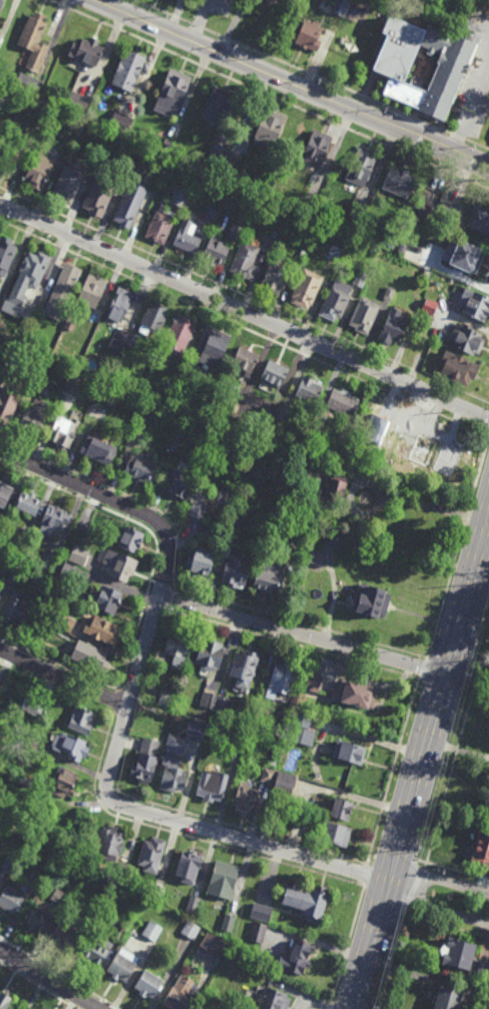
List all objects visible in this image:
building: (1, 4)
parking lot: (234, 6)
building: (340, 7)
road: (203, 21)
road: (236, 27)
building: (309, 36)
building: (33, 41)
building: (85, 51)
building: (392, 64)
road: (293, 66)
building: (128, 70)
building: (28, 83)
road: (290, 84)
building: (174, 87)
road: (268, 94)
building: (77, 102)
building: (217, 106)
road: (470, 110)
building: (120, 122)
building: (269, 128)
road: (460, 137)
building: (167, 142)
road: (479, 146)
building: (316, 147)
building: (217, 152)
building: (12, 154)
building: (232, 158)
building: (361, 166)
building: (128, 167)
building: (40, 170)
building: (69, 181)
building: (399, 181)
building: (313, 194)
building: (98, 196)
building: (180, 196)
building: (129, 204)
building: (425, 207)
building: (358, 210)
building: (448, 211)
building: (210, 215)
building: (480, 218)
building: (160, 224)
building: (273, 230)
building: (235, 231)
building: (186, 238)
building: (215, 251)
building: (6, 254)
building: (464, 255)
building: (245, 261)
building: (331, 265)
building: (413, 272)
building: (275, 276)
building: (360, 277)
building: (26, 280)
building: (63, 287)
building: (306, 288)
building: (91, 293)
building: (389, 293)
building: (336, 299)
building: (43, 300)
building: (475, 304)
building: (120, 305)
building: (430, 306)
building: (40, 308)
road: (244, 313)
building: (365, 315)
building: (426, 319)
building: (153, 320)
building: (70, 326)
building: (393, 326)
building: (179, 334)
building: (467, 338)
building: (119, 339)
building: (132, 341)
building: (214, 348)
building: (16, 357)
building: (44, 358)
building: (245, 360)
building: (458, 368)
building: (274, 373)
building: (183, 375)
building: (75, 383)
building: (309, 391)
building: (244, 395)
building: (343, 401)
building: (8, 404)
building: (97, 411)
building: (272, 411)
building: (283, 412)
building: (35, 416)
building: (141, 427)
building: (64, 432)
building: (315, 433)
building: (99, 449)
building: (416, 451)
building: (355, 460)
building: (306, 463)
building: (140, 470)
building: (180, 486)
building: (333, 492)
building: (5, 494)
building: (29, 503)
building: (199, 504)
road: (426, 505)
building: (54, 521)
building: (84, 524)
building: (230, 531)
road: (486, 534)
building: (333, 538)
building: (130, 540)
building: (20, 551)
building: (79, 555)
building: (48, 560)
building: (200, 562)
building: (118, 565)
building: (15, 567)
building: (71, 573)
building: (235, 573)
building: (268, 576)
building: (41, 577)
building: (1, 593)
building: (370, 599)
building: (108, 600)
road: (185, 602)
building: (16, 609)
building: (67, 621)
building: (102, 629)
building: (177, 647)
road: (144, 648)
building: (209, 653)
building: (92, 656)
building: (244, 667)
building: (281, 678)
power tower: (469, 678)
building: (311, 682)
building: (356, 691)
building: (169, 700)
building: (213, 701)
building: (36, 704)
building: (257, 716)
building: (83, 720)
building: (301, 729)
building: (22, 735)
building: (70, 745)
building: (348, 751)
building: (235, 754)
building: (177, 758)
building: (145, 761)
road: (420, 761)
power tower: (443, 763)
building: (269, 772)
building: (22, 776)
building: (285, 782)
building: (65, 783)
building: (212, 783)
building: (245, 798)
building: (487, 799)
building: (341, 808)
road: (137, 810)
building: (300, 819)
building: (336, 834)
building: (109, 843)
building: (481, 847)
building: (150, 854)
power tower: (418, 855)
building: (8, 866)
building: (188, 866)
building: (122, 868)
road: (438, 878)
building: (222, 880)
building: (36, 882)
building: (158, 891)
building: (61, 897)
building: (11, 899)
building: (307, 901)
building: (193, 904)
road: (435, 906)
building: (261, 912)
building: (38, 919)
building: (228, 923)
building: (190, 930)
building: (70, 931)
building: (116, 931)
building: (152, 931)
building: (257, 932)
building: (264, 934)
building: (214, 945)
building: (94, 950)
building: (457, 952)
building: (297, 958)
building: (122, 965)
building: (482, 970)
road: (48, 979)
building: (148, 984)
building: (179, 994)
building: (483, 997)
building: (447, 998)
building: (274, 999)
building: (6, 1001)

